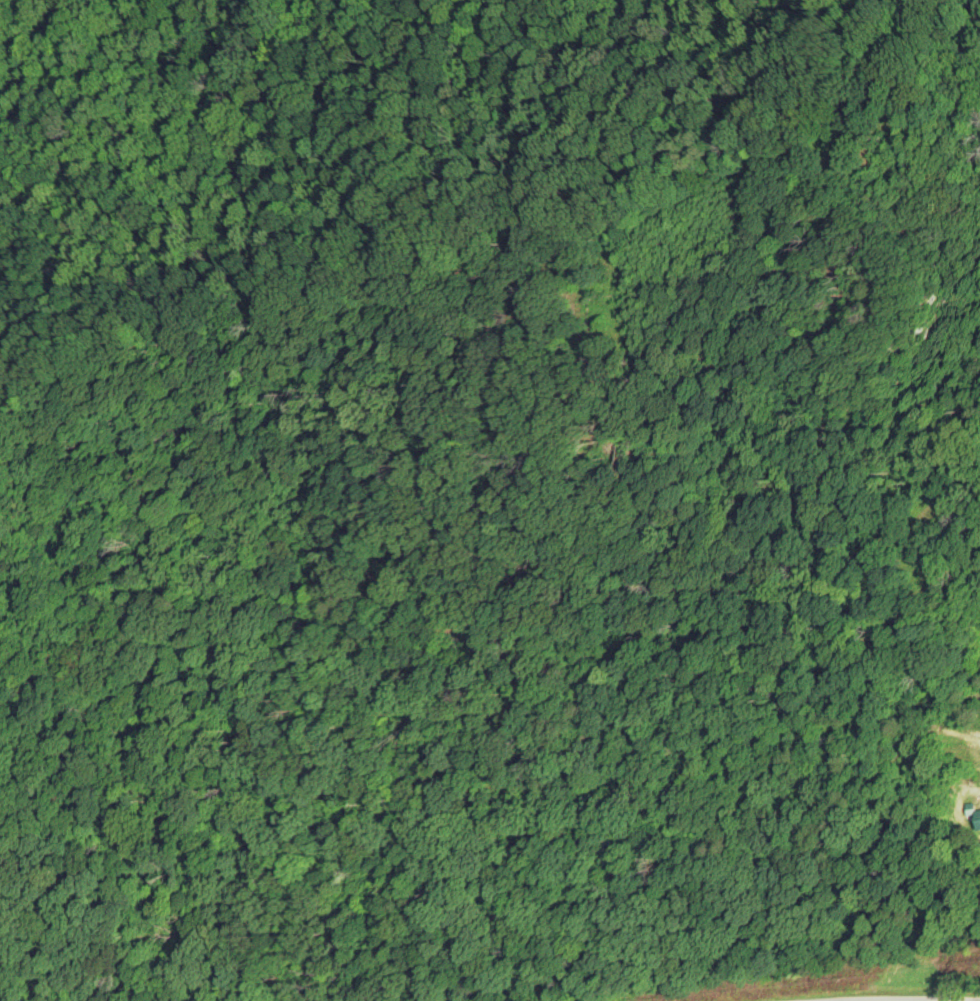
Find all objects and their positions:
building: (979, 816)
road: (903, 1000)

